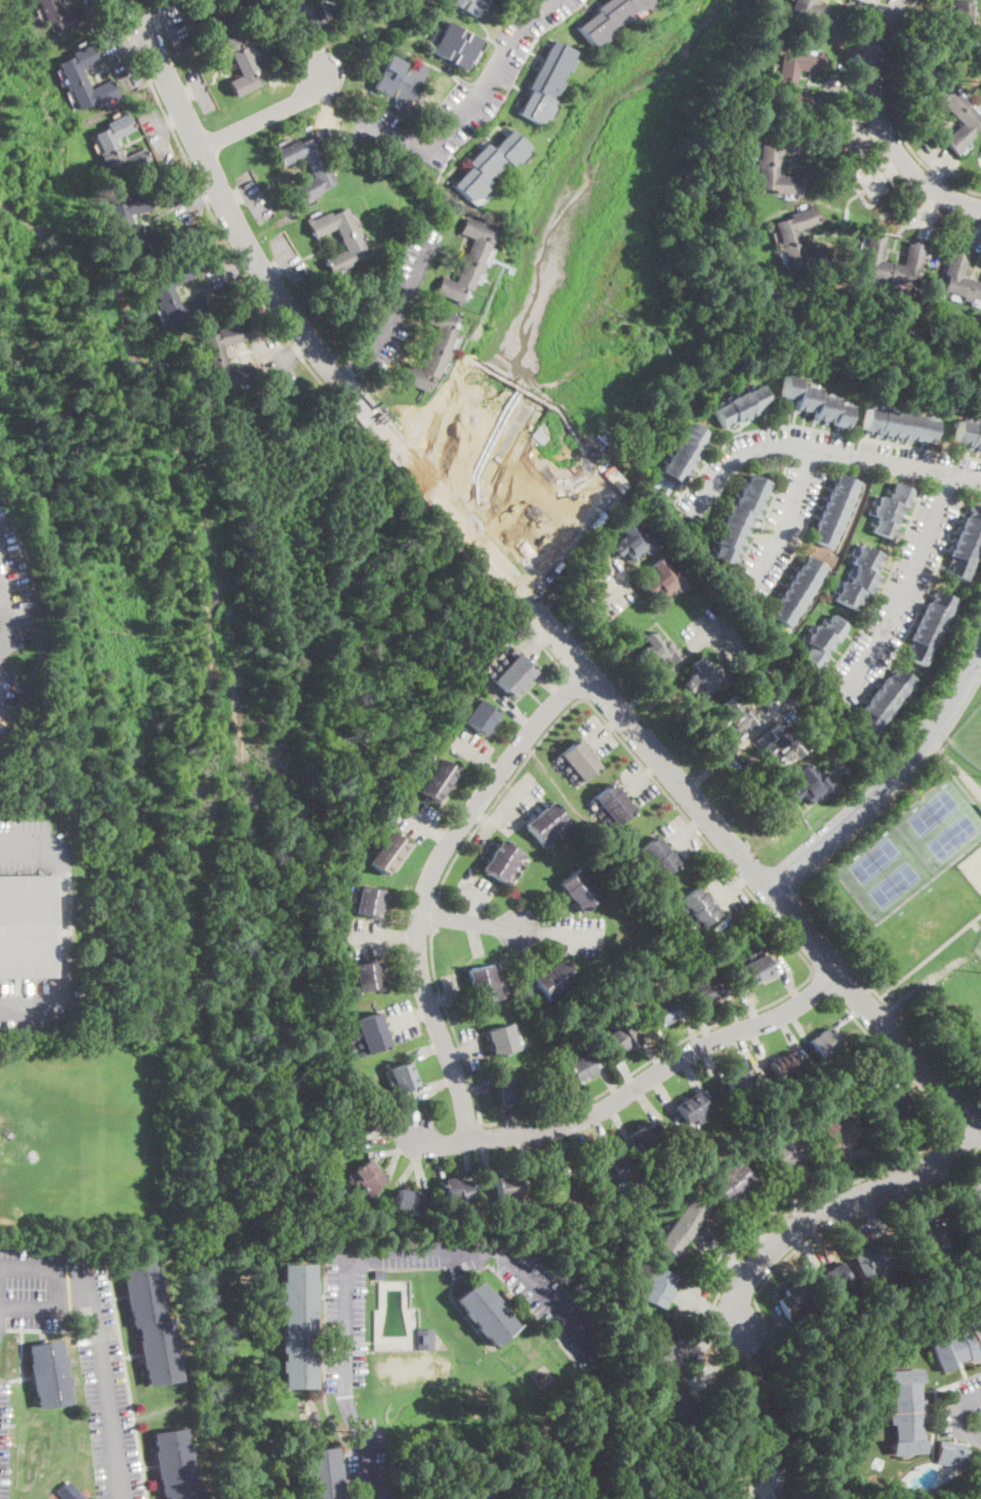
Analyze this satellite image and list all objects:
building: (345, 1)
parking lot: (89, 2)
building: (468, 5)
building: (223, 9)
building: (815, 12)
building: (59, 16)
building: (608, 18)
road: (156, 23)
road: (170, 24)
building: (967, 24)
road: (128, 32)
road: (312, 33)
building: (455, 46)
parking lot: (117, 53)
road: (121, 56)
building: (237, 63)
building: (72, 73)
building: (398, 82)
building: (548, 83)
building: (785, 87)
parking lot: (471, 90)
road: (201, 92)
road: (188, 94)
road: (472, 102)
road: (893, 114)
road: (265, 115)
building: (969, 120)
road: (170, 121)
road: (882, 126)
parking lot: (157, 132)
road: (160, 133)
building: (106, 143)
building: (487, 164)
building: (306, 167)
building: (768, 167)
road: (885, 170)
road: (210, 192)
parking lot: (255, 197)
road: (235, 198)
road: (196, 200)
road: (250, 200)
parking lot: (189, 205)
building: (120, 220)
building: (788, 239)
building: (354, 245)
road: (285, 259)
parking lot: (288, 259)
building: (913, 259)
building: (468, 261)
road: (246, 262)
road: (274, 269)
road: (231, 272)
parking lot: (220, 274)
building: (960, 278)
building: (163, 292)
parking lot: (401, 303)
road: (404, 303)
road: (302, 345)
building: (433, 351)
building: (214, 352)
road: (288, 356)
road: (303, 359)
parking lot: (283, 363)
road: (354, 368)
building: (813, 402)
building: (739, 406)
building: (896, 424)
building: (967, 434)
road: (821, 447)
building: (678, 460)
parking lot: (825, 462)
building: (834, 510)
building: (889, 510)
road: (787, 516)
building: (738, 519)
parking lot: (781, 526)
building: (633, 542)
building: (966, 543)
building: (859, 578)
building: (664, 580)
road: (1, 583)
road: (906, 585)
road: (518, 589)
parking lot: (610, 591)
building: (797, 591)
parking lot: (898, 594)
road: (591, 606)
road: (3, 614)
road: (6, 618)
parking lot: (15, 626)
building: (929, 627)
parking lot: (710, 631)
road: (539, 638)
building: (822, 641)
road: (3, 644)
building: (655, 652)
building: (513, 675)
road: (663, 676)
building: (704, 678)
road: (552, 685)
road: (577, 685)
building: (883, 702)
road: (509, 704)
parking lot: (784, 705)
building: (481, 717)
building: (735, 717)
road: (615, 718)
road: (599, 732)
park: (970, 735)
parking lot: (598, 736)
road: (619, 736)
parking lot: (470, 746)
building: (781, 746)
road: (735, 748)
road: (472, 751)
parking lot: (728, 754)
building: (579, 760)
road: (494, 766)
road: (655, 766)
building: (437, 780)
road: (640, 780)
road: (890, 780)
parking lot: (638, 783)
building: (808, 785)
building: (613, 804)
parking lot: (509, 808)
road: (505, 809)
park: (932, 810)
parking lot: (416, 815)
road: (421, 816)
road: (483, 817)
road: (700, 820)
building: (545, 822)
road: (444, 830)
road: (684, 834)
parking lot: (684, 836)
park: (951, 838)
parking lot: (25, 846)
park: (980, 846)
building: (388, 853)
park: (873, 857)
building: (657, 858)
building: (501, 861)
park: (972, 867)
road: (746, 876)
road: (427, 884)
park: (893, 885)
parking lot: (476, 889)
road: (729, 889)
road: (472, 891)
building: (579, 891)
road: (795, 891)
parking lot: (729, 894)
building: (368, 901)
park: (920, 901)
road: (472, 907)
building: (700, 907)
road: (433, 915)
road: (469, 922)
road: (63, 925)
building: (26, 927)
road: (536, 932)
road: (371, 936)
road: (404, 936)
parking lot: (578, 936)
road: (578, 936)
road: (476, 937)
parking lot: (367, 938)
park: (978, 939)
road: (930, 954)
building: (756, 969)
building: (367, 976)
building: (555, 980)
road: (789, 982)
road: (825, 982)
building: (482, 985)
parking lot: (455, 990)
building: (709, 991)
road: (451, 992)
road: (435, 999)
road: (750, 1002)
parking lot: (33, 1007)
road: (424, 1011)
building: (664, 1011)
road: (734, 1011)
road: (848, 1015)
road: (405, 1018)
parking lot: (403, 1020)
road: (704, 1023)
road: (799, 1028)
road: (692, 1030)
building: (373, 1032)
building: (630, 1034)
road: (790, 1035)
building: (501, 1040)
building: (618, 1040)
building: (825, 1042)
road: (470, 1045)
road: (669, 1045)
parking lot: (474, 1046)
road: (427, 1049)
road: (759, 1049)
road: (455, 1052)
road: (744, 1052)
road: (653, 1053)
building: (586, 1064)
building: (783, 1066)
building: (576, 1070)
building: (400, 1071)
road: (625, 1072)
road: (693, 1077)
building: (404, 1083)
road: (609, 1083)
building: (741, 1083)
road: (437, 1085)
road: (636, 1085)
building: (510, 1090)
road: (663, 1094)
building: (327, 1096)
road: (583, 1101)
road: (649, 1106)
building: (691, 1107)
road: (563, 1109)
building: (890, 1109)
building: (351, 1120)
road: (506, 1122)
road: (620, 1122)
building: (839, 1129)
road: (392, 1130)
building: (350, 1134)
road: (604, 1134)
building: (647, 1137)
road: (962, 1137)
road: (407, 1143)
road: (563, 1149)
road: (908, 1150)
road: (384, 1151)
building: (788, 1152)
road: (468, 1159)
road: (438, 1160)
road: (420, 1161)
road: (393, 1163)
road: (877, 1163)
road: (486, 1166)
building: (366, 1171)
building: (607, 1171)
road: (839, 1175)
building: (733, 1182)
building: (373, 1184)
building: (566, 1186)
building: (506, 1187)
building: (450, 1189)
road: (821, 1189)
building: (464, 1190)
building: (973, 1190)
building: (553, 1191)
road: (924, 1197)
building: (402, 1201)
building: (417, 1202)
road: (753, 1203)
road: (834, 1205)
building: (590, 1214)
building: (683, 1225)
road: (861, 1231)
road: (820, 1237)
building: (930, 1241)
road: (804, 1249)
road: (362, 1252)
road: (729, 1256)
building: (872, 1260)
road: (43, 1269)
building: (379, 1275)
road: (726, 1280)
building: (905, 1280)
building: (832, 1283)
building: (657, 1287)
building: (793, 1301)
road: (46, 1305)
road: (705, 1309)
building: (150, 1323)
building: (297, 1326)
building: (507, 1335)
building: (425, 1340)
road: (708, 1342)
building: (957, 1346)
parking lot: (78, 1347)
building: (653, 1351)
road: (716, 1364)
building: (48, 1374)
parking lot: (345, 1374)
road: (323, 1375)
road: (125, 1379)
road: (104, 1383)
building: (676, 1409)
road: (767, 1410)
parking lot: (962, 1411)
building: (905, 1412)
road: (957, 1416)
road: (596, 1422)
parking lot: (3, 1436)
building: (951, 1454)
building: (173, 1465)
building: (954, 1472)
building: (321, 1474)
building: (69, 1491)
building: (474, 1494)

